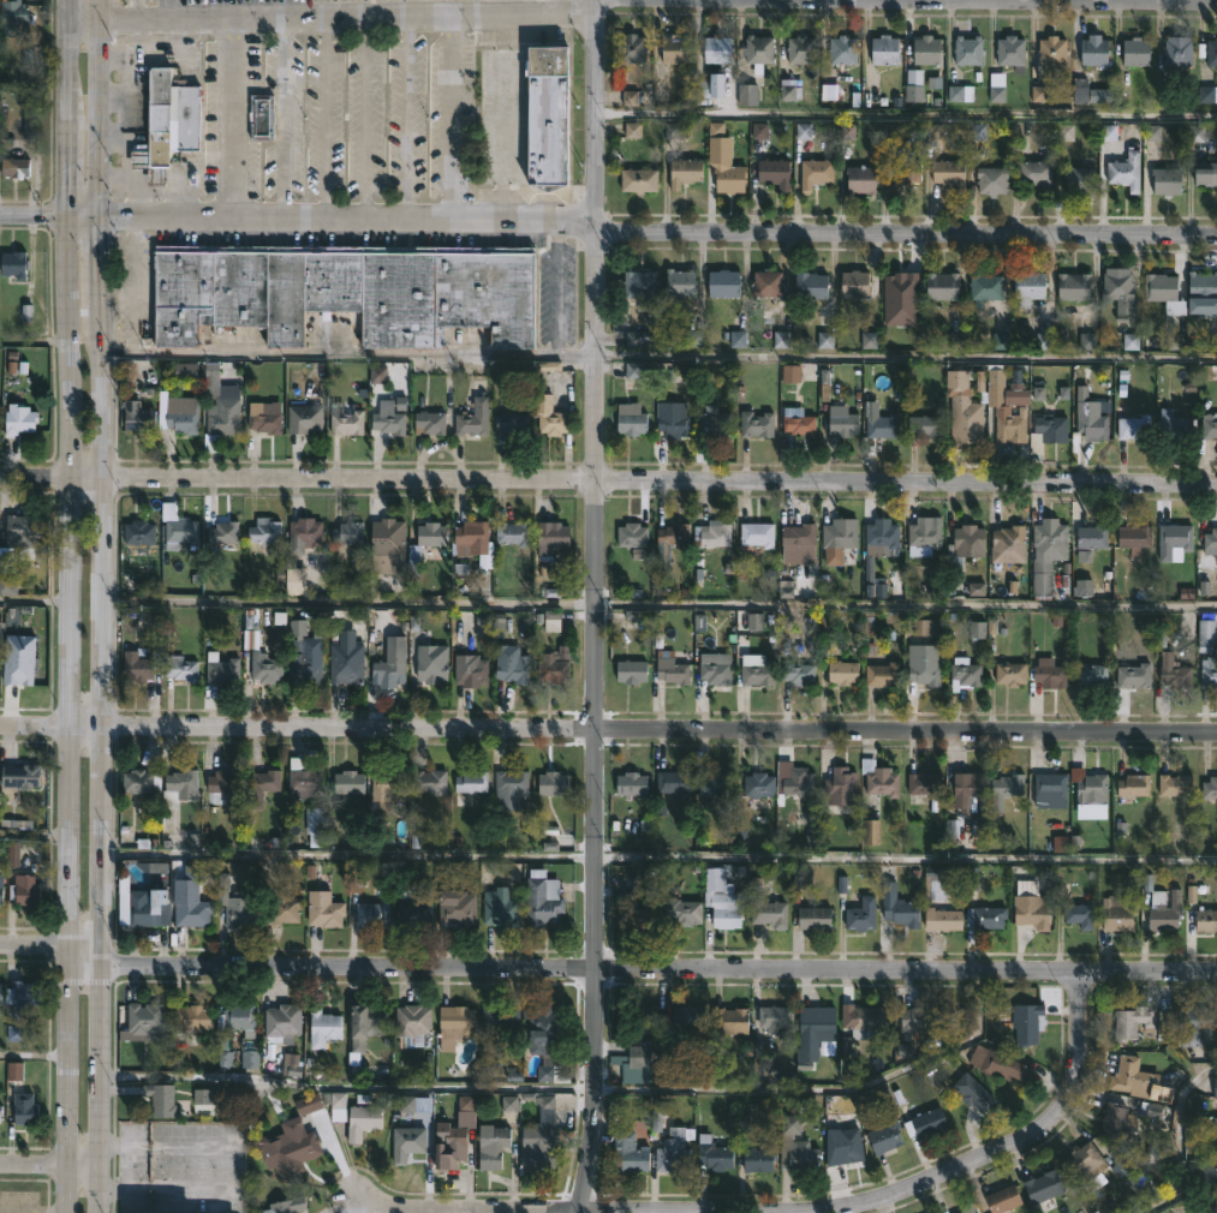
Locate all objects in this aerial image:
building: (12, 13)
road: (332, 17)
building: (632, 47)
building: (676, 48)
building: (717, 48)
building: (800, 49)
building: (843, 49)
building: (885, 49)
building: (929, 49)
building: (970, 49)
building: (1012, 50)
building: (1055, 50)
building: (1096, 50)
building: (1138, 50)
building: (1180, 50)
building: (759, 52)
building: (1212, 52)
building: (712, 86)
building: (748, 97)
road: (595, 110)
building: (261, 116)
building: (545, 116)
road: (323, 118)
road: (405, 118)
road: (454, 118)
road: (906, 118)
road: (231, 119)
road: (284, 119)
road: (364, 119)
building: (169, 123)
building: (14, 167)
building: (686, 172)
building: (1126, 172)
building: (775, 173)
building: (812, 173)
building: (950, 173)
building: (1033, 174)
building: (1204, 174)
building: (899, 175)
building: (726, 179)
building: (636, 180)
building: (858, 180)
building: (989, 180)
building: (1076, 180)
building: (1164, 181)
traffic signals: (67, 219)
traffic signals: (101, 219)
road: (297, 220)
road: (595, 228)
road: (906, 237)
building: (14, 264)
building: (680, 283)
building: (724, 283)
building: (768, 283)
building: (637, 285)
building: (857, 285)
building: (894, 285)
building: (812, 286)
building: (1201, 286)
building: (939, 287)
building: (986, 287)
building: (1070, 287)
building: (1026, 288)
building: (1121, 288)
building: (1157, 288)
building: (344, 292)
road: (35, 347)
road: (657, 358)
building: (1006, 405)
building: (962, 411)
building: (178, 413)
building: (458, 417)
building: (547, 417)
building: (222, 419)
building: (263, 419)
building: (305, 419)
building: (19, 420)
building: (139, 420)
building: (346, 420)
building: (799, 422)
building: (388, 423)
building: (509, 423)
building: (627, 424)
building: (714, 424)
building: (1171, 424)
building: (670, 425)
building: (754, 425)
building: (840, 425)
building: (1052, 425)
building: (883, 426)
building: (924, 426)
building: (1092, 426)
building: (1131, 426)
building: (1207, 426)
road: (608, 479)
building: (178, 527)
building: (264, 530)
building: (139, 532)
building: (223, 532)
building: (347, 532)
building: (511, 532)
building: (674, 533)
building: (714, 533)
building: (757, 533)
building: (24, 534)
building: (305, 534)
building: (630, 534)
building: (882, 534)
building: (1132, 534)
building: (1088, 536)
building: (924, 537)
building: (970, 538)
building: (1170, 538)
building: (550, 539)
building: (1209, 540)
building: (473, 542)
building: (835, 542)
building: (799, 543)
building: (388, 544)
building: (1006, 544)
building: (1044, 556)
building: (414, 562)
road: (101, 605)
road: (36, 606)
road: (71, 606)
road: (658, 609)
building: (1206, 634)
building: (137, 665)
building: (432, 667)
building: (921, 667)
building: (180, 668)
building: (221, 668)
building: (266, 668)
building: (668, 668)
building: (512, 669)
building: (753, 669)
building: (19, 670)
building: (549, 670)
building: (628, 670)
building: (1171, 670)
building: (305, 671)
building: (347, 671)
building: (389, 671)
building: (471, 671)
building: (712, 671)
building: (840, 671)
building: (1092, 673)
building: (1209, 673)
building: (795, 674)
building: (878, 674)
building: (1008, 674)
building: (962, 675)
building: (1133, 675)
building: (1051, 676)
road: (593, 724)
road: (608, 729)
building: (20, 776)
building: (877, 778)
building: (141, 779)
building: (222, 782)
building: (304, 782)
building: (348, 782)
building: (430, 782)
building: (472, 782)
building: (511, 782)
building: (674, 782)
building: (262, 783)
building: (386, 783)
building: (549, 783)
building: (717, 783)
building: (799, 783)
building: (921, 783)
building: (627, 784)
building: (756, 784)
building: (1173, 784)
building: (837, 785)
building: (966, 785)
building: (1090, 785)
building: (1132, 785)
building: (179, 787)
building: (1209, 788)
building: (1003, 789)
building: (1051, 789)
road: (34, 842)
road: (658, 860)
building: (25, 890)
building: (0, 892)
building: (542, 898)
building: (722, 903)
building: (189, 906)
building: (288, 906)
building: (149, 907)
building: (458, 907)
building: (499, 908)
building: (240, 909)
building: (413, 909)
building: (1158, 909)
building: (324, 912)
building: (679, 912)
building: (765, 912)
building: (899, 912)
building: (1028, 912)
building: (1078, 912)
building: (1115, 913)
building: (372, 915)
building: (859, 915)
building: (982, 918)
building: (638, 919)
building: (811, 919)
building: (944, 919)
building: (1204, 919)
road: (608, 967)
building: (0, 992)
building: (24, 993)
building: (774, 1015)
building: (867, 1016)
building: (145, 1017)
building: (193, 1017)
building: (639, 1017)
building: (684, 1017)
building: (920, 1018)
building: (241, 1020)
building: (497, 1020)
building: (727, 1020)
building: (1028, 1020)
building: (282, 1021)
building: (457, 1022)
building: (815, 1022)
building: (1131, 1022)
building: (413, 1023)
building: (366, 1024)
building: (1195, 1026)
building: (323, 1027)
building: (538, 1028)
building: (638, 1057)
road: (34, 1060)
building: (996, 1064)
building: (16, 1072)
building: (553, 1072)
building: (1126, 1075)
road: (574, 1086)
building: (1213, 1087)
building: (971, 1093)
building: (161, 1098)
building: (335, 1105)
building: (0, 1107)
building: (24, 1109)
building: (1117, 1119)
building: (363, 1121)
building: (925, 1122)
road: (1175, 1137)
building: (846, 1139)
building: (885, 1140)
building: (453, 1141)
building: (407, 1142)
building: (797, 1145)
building: (493, 1148)
building: (538, 1148)
building: (673, 1151)
building: (292, 1152)
building: (625, 1153)
building: (711, 1155)
building: (757, 1159)
road: (50, 1165)
building: (1086, 1166)
building: (1215, 1173)
building: (1132, 1178)
building: (1040, 1187)
building: (1000, 1200)
building: (288, 1205)
road: (375, 1205)
road: (843, 1205)
building: (966, 1207)
building: (1215, 1207)
building: (973, 1212)

